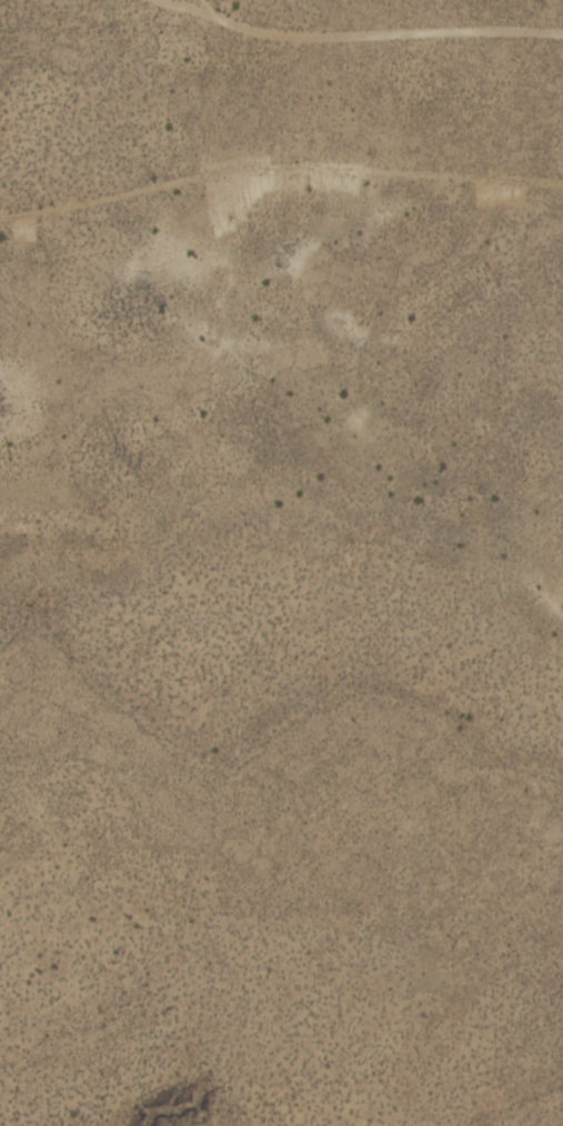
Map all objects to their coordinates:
road: (321, 59)

